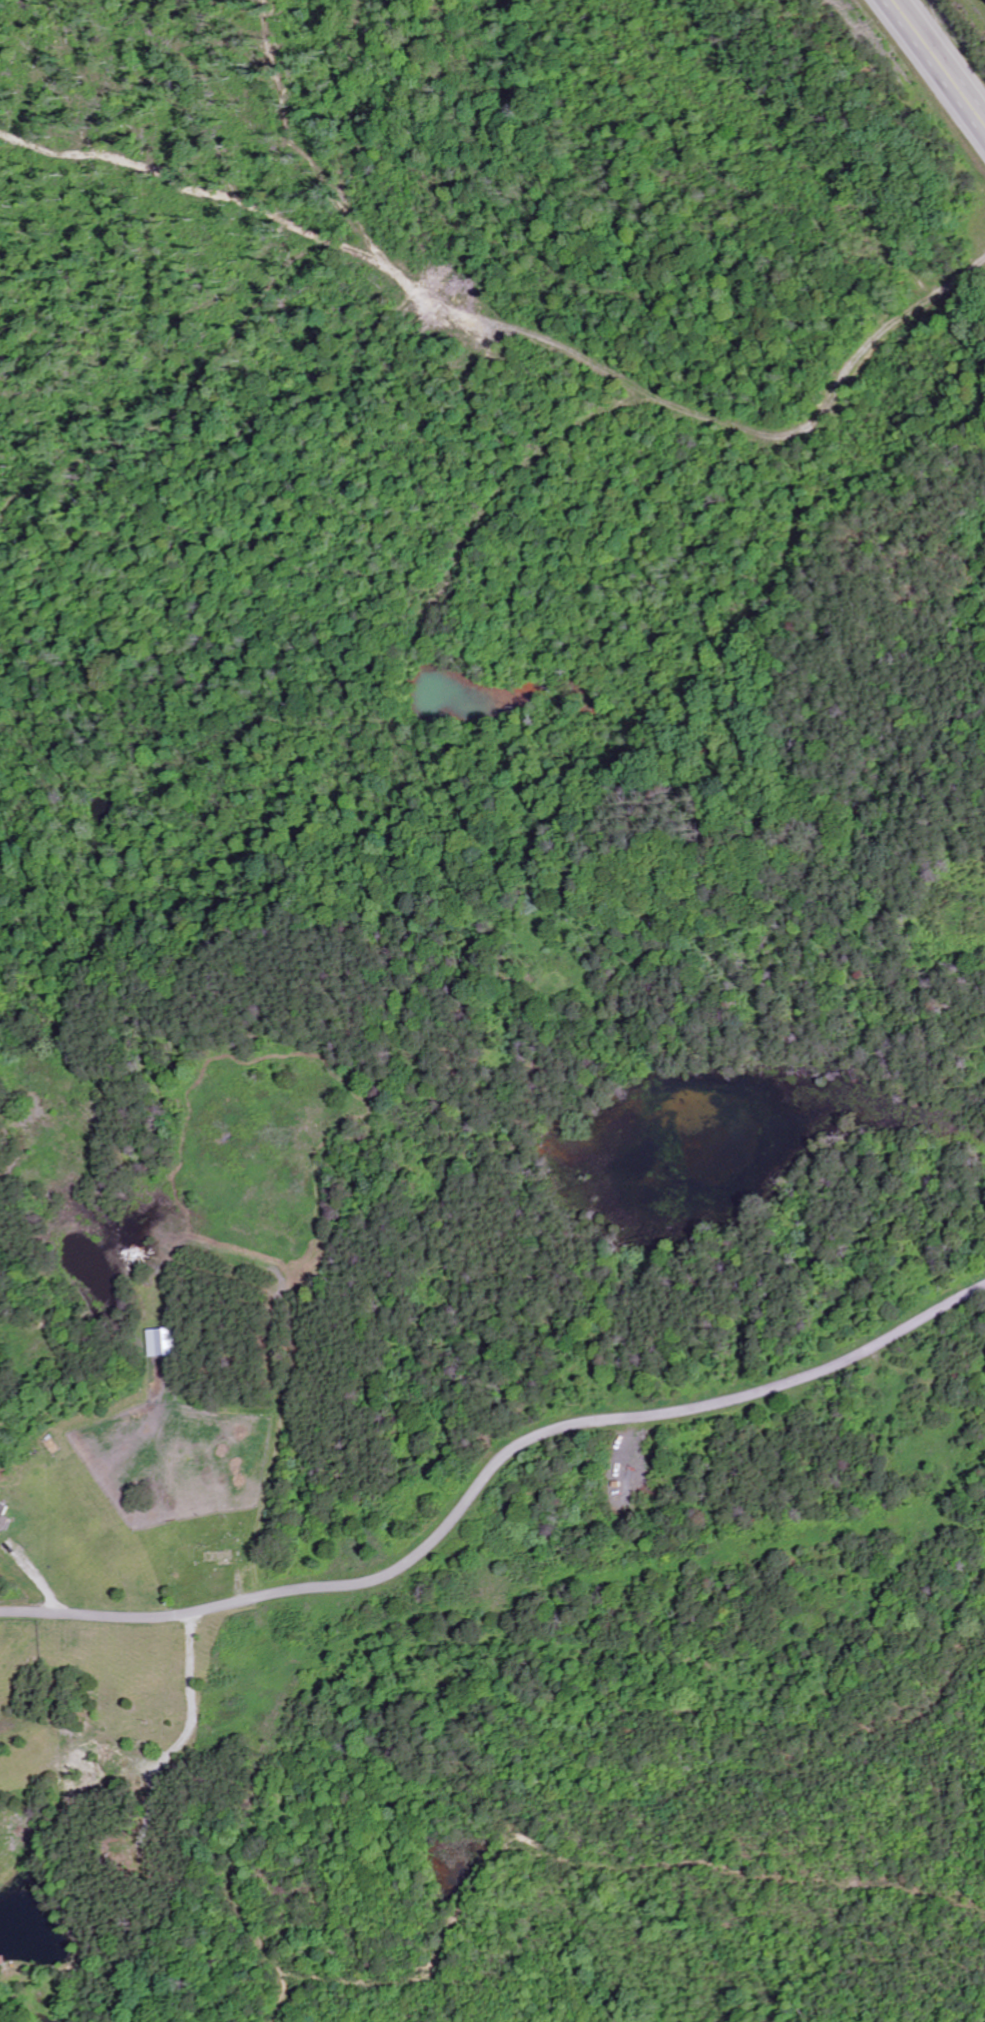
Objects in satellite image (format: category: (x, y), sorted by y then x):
road: (932, 67)
road: (733, 427)
building: (151, 1344)
road: (490, 1476)
building: (0, 1509)
building: (1, 1522)
building: (220, 1559)
road: (37, 1580)
road: (194, 1734)

